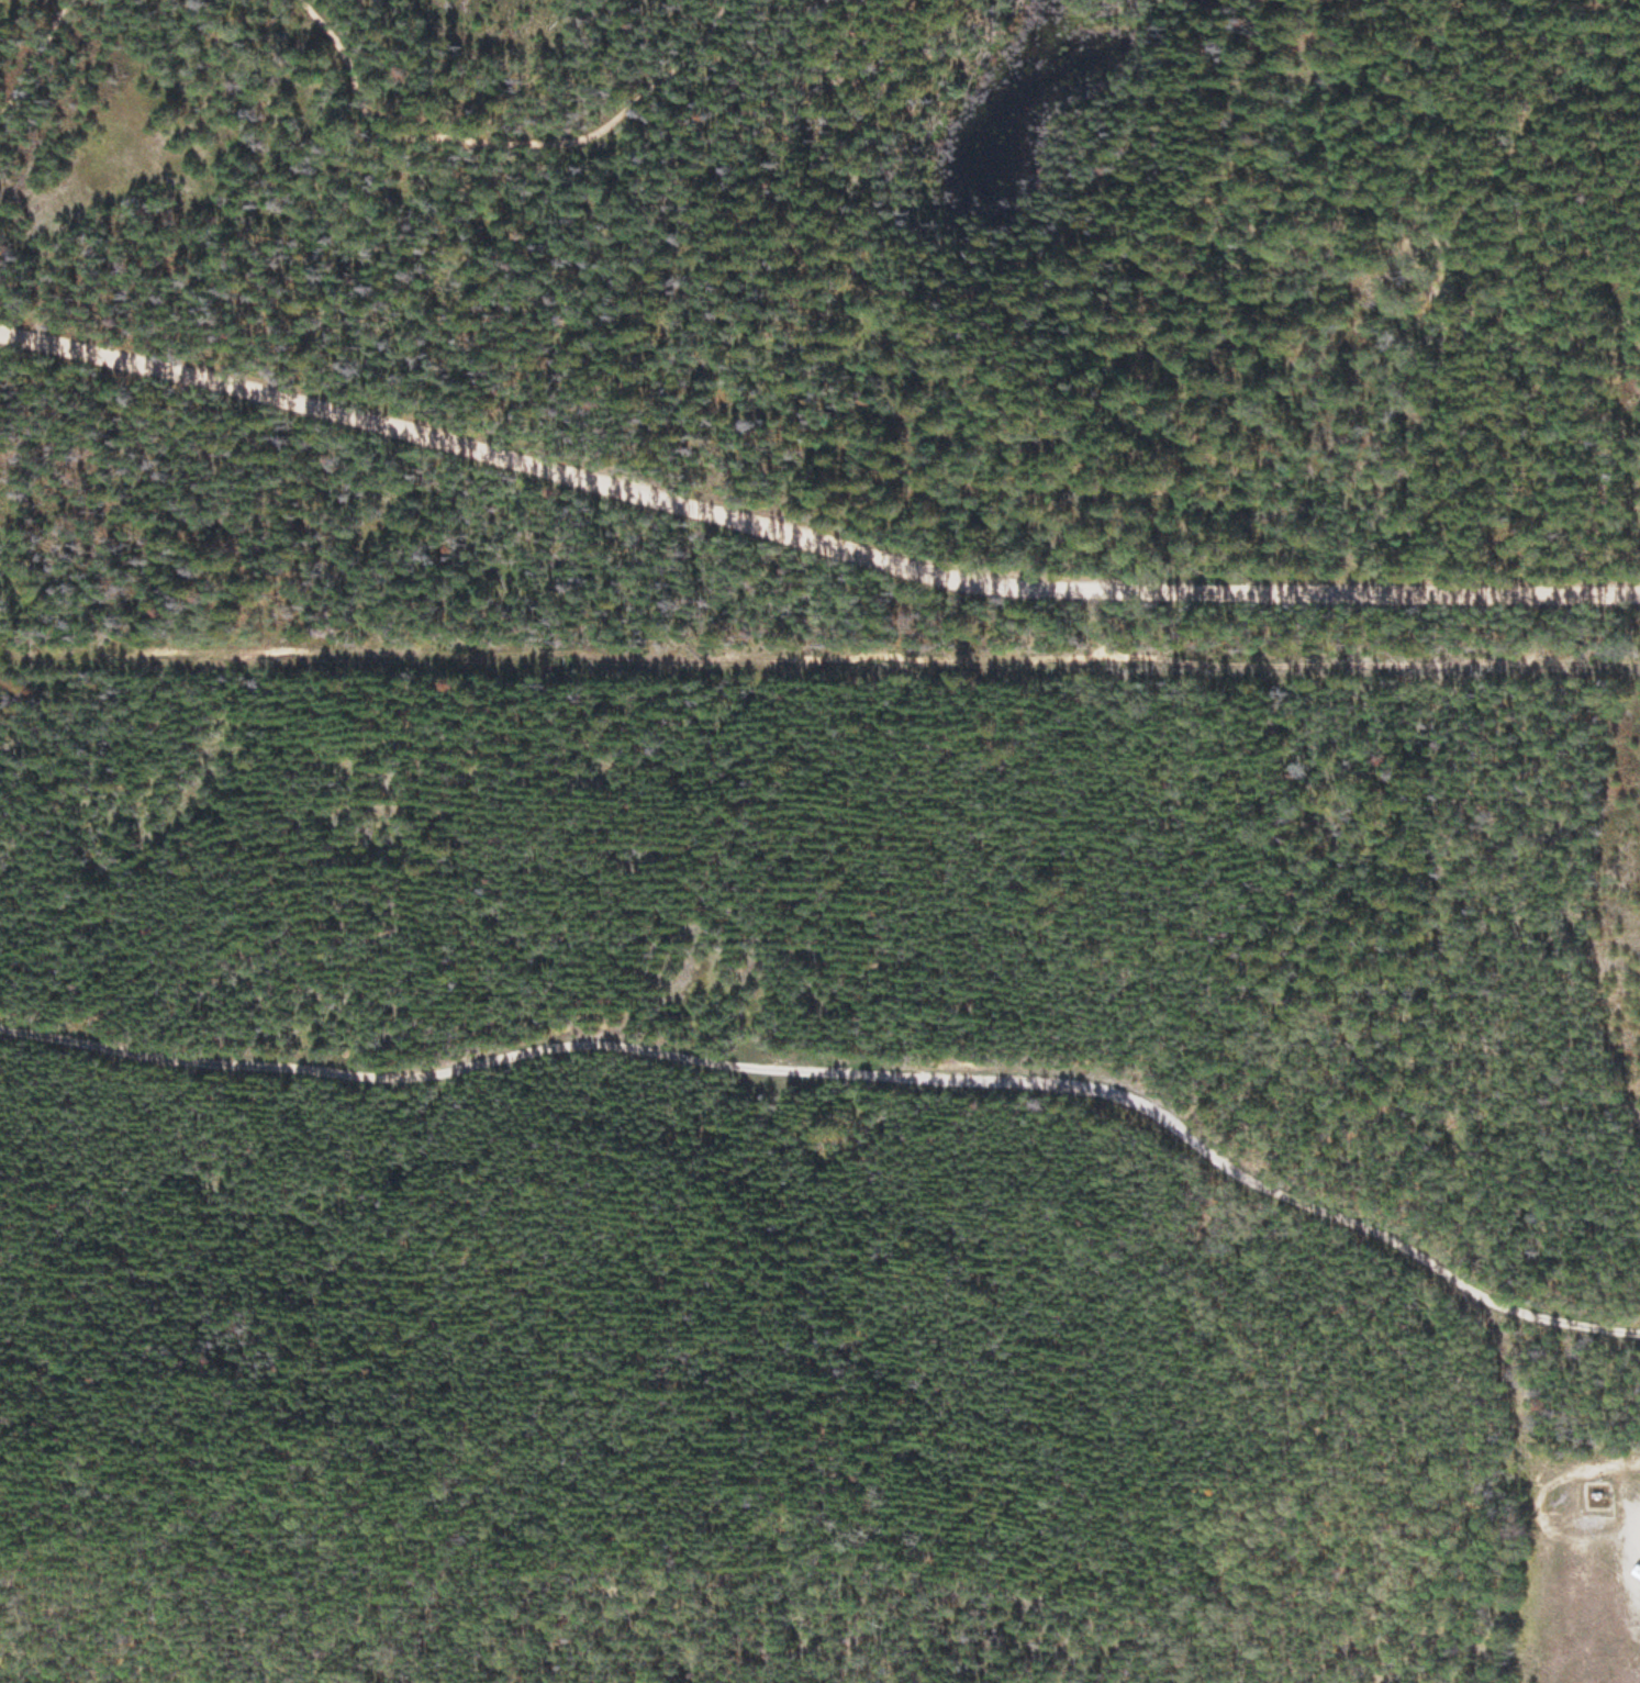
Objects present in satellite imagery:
road: (36, 65)
road: (662, 79)
road: (406, 140)
road: (811, 537)
road: (1100, 628)
road: (800, 660)
road: (847, 1070)
building: (1591, 1523)
building: (1632, 1667)

